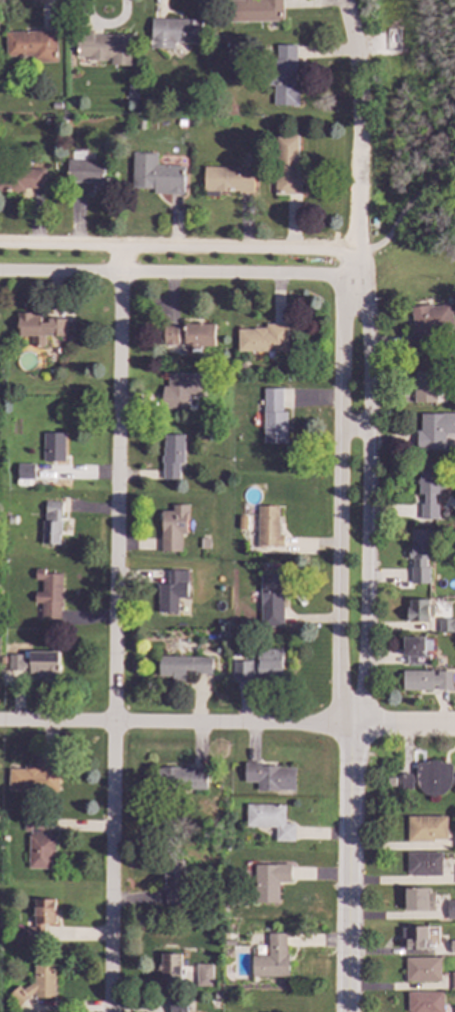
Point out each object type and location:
building: (253, 10)
building: (174, 31)
building: (32, 44)
building: (104, 46)
building: (284, 75)
road: (355, 123)
park: (416, 142)
building: (287, 165)
building: (88, 172)
building: (157, 174)
building: (21, 178)
building: (229, 178)
road: (406, 209)
road: (177, 246)
road: (353, 265)
road: (175, 271)
building: (429, 322)
building: (40, 327)
building: (187, 334)
building: (263, 339)
building: (424, 387)
building: (180, 390)
building: (273, 417)
road: (354, 429)
building: (434, 431)
building: (53, 447)
building: (172, 456)
building: (25, 471)
building: (429, 490)
road: (340, 502)
road: (367, 502)
building: (51, 523)
building: (267, 526)
building: (173, 528)
building: (420, 554)
building: (171, 591)
building: (270, 591)
building: (48, 595)
building: (418, 610)
building: (274, 620)
building: (446, 625)
road: (113, 628)
building: (414, 651)
building: (32, 664)
building: (269, 664)
building: (183, 666)
building: (244, 670)
building: (425, 680)
road: (175, 723)
road: (402, 725)
building: (270, 777)
building: (33, 778)
building: (181, 778)
building: (429, 778)
building: (389, 781)
building: (270, 820)
building: (426, 828)
building: (454, 840)
building: (39, 843)
building: (424, 864)
road: (347, 868)
building: (174, 878)
building: (269, 882)
building: (418, 900)
building: (451, 910)
building: (40, 920)
building: (414, 938)
building: (452, 948)
building: (271, 959)
building: (170, 969)
building: (422, 969)
building: (203, 975)
building: (453, 980)
building: (38, 985)
building: (425, 1002)
building: (454, 1009)

